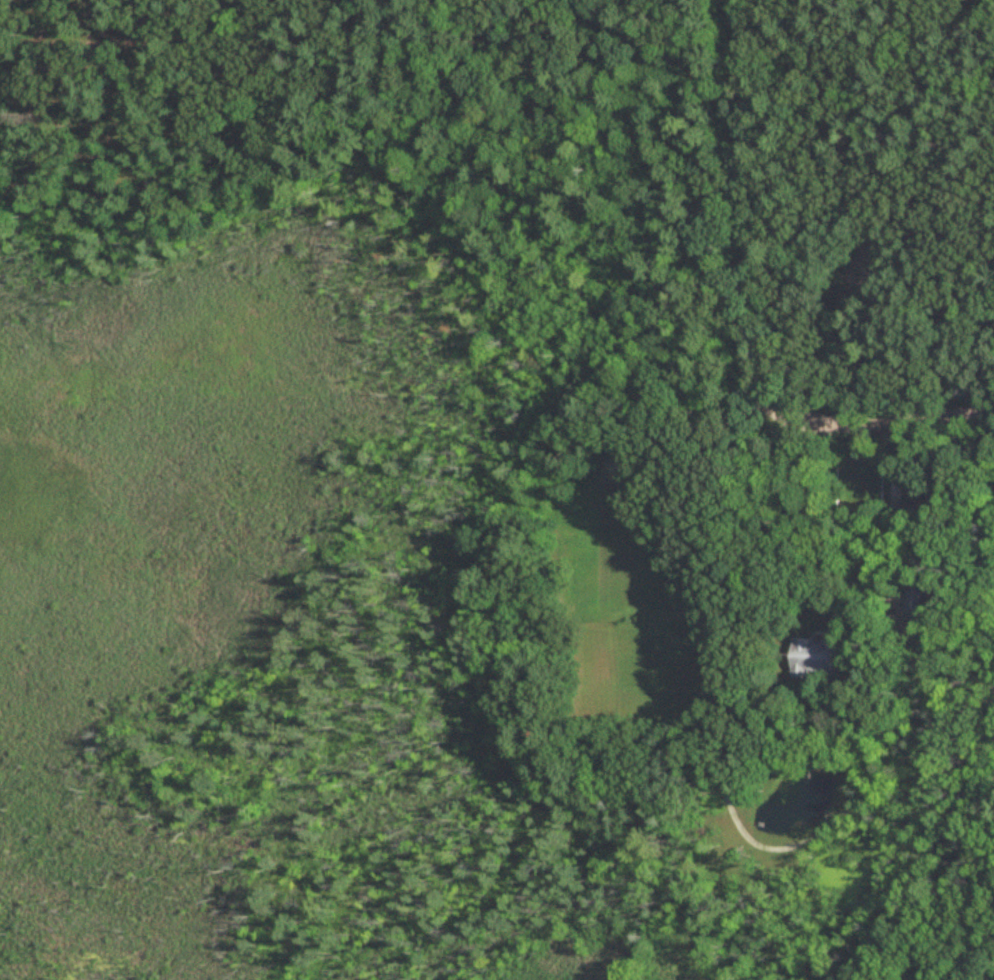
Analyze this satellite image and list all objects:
road: (743, 206)
road: (885, 416)
road: (979, 558)
road: (908, 562)
building: (914, 602)
building: (815, 655)

